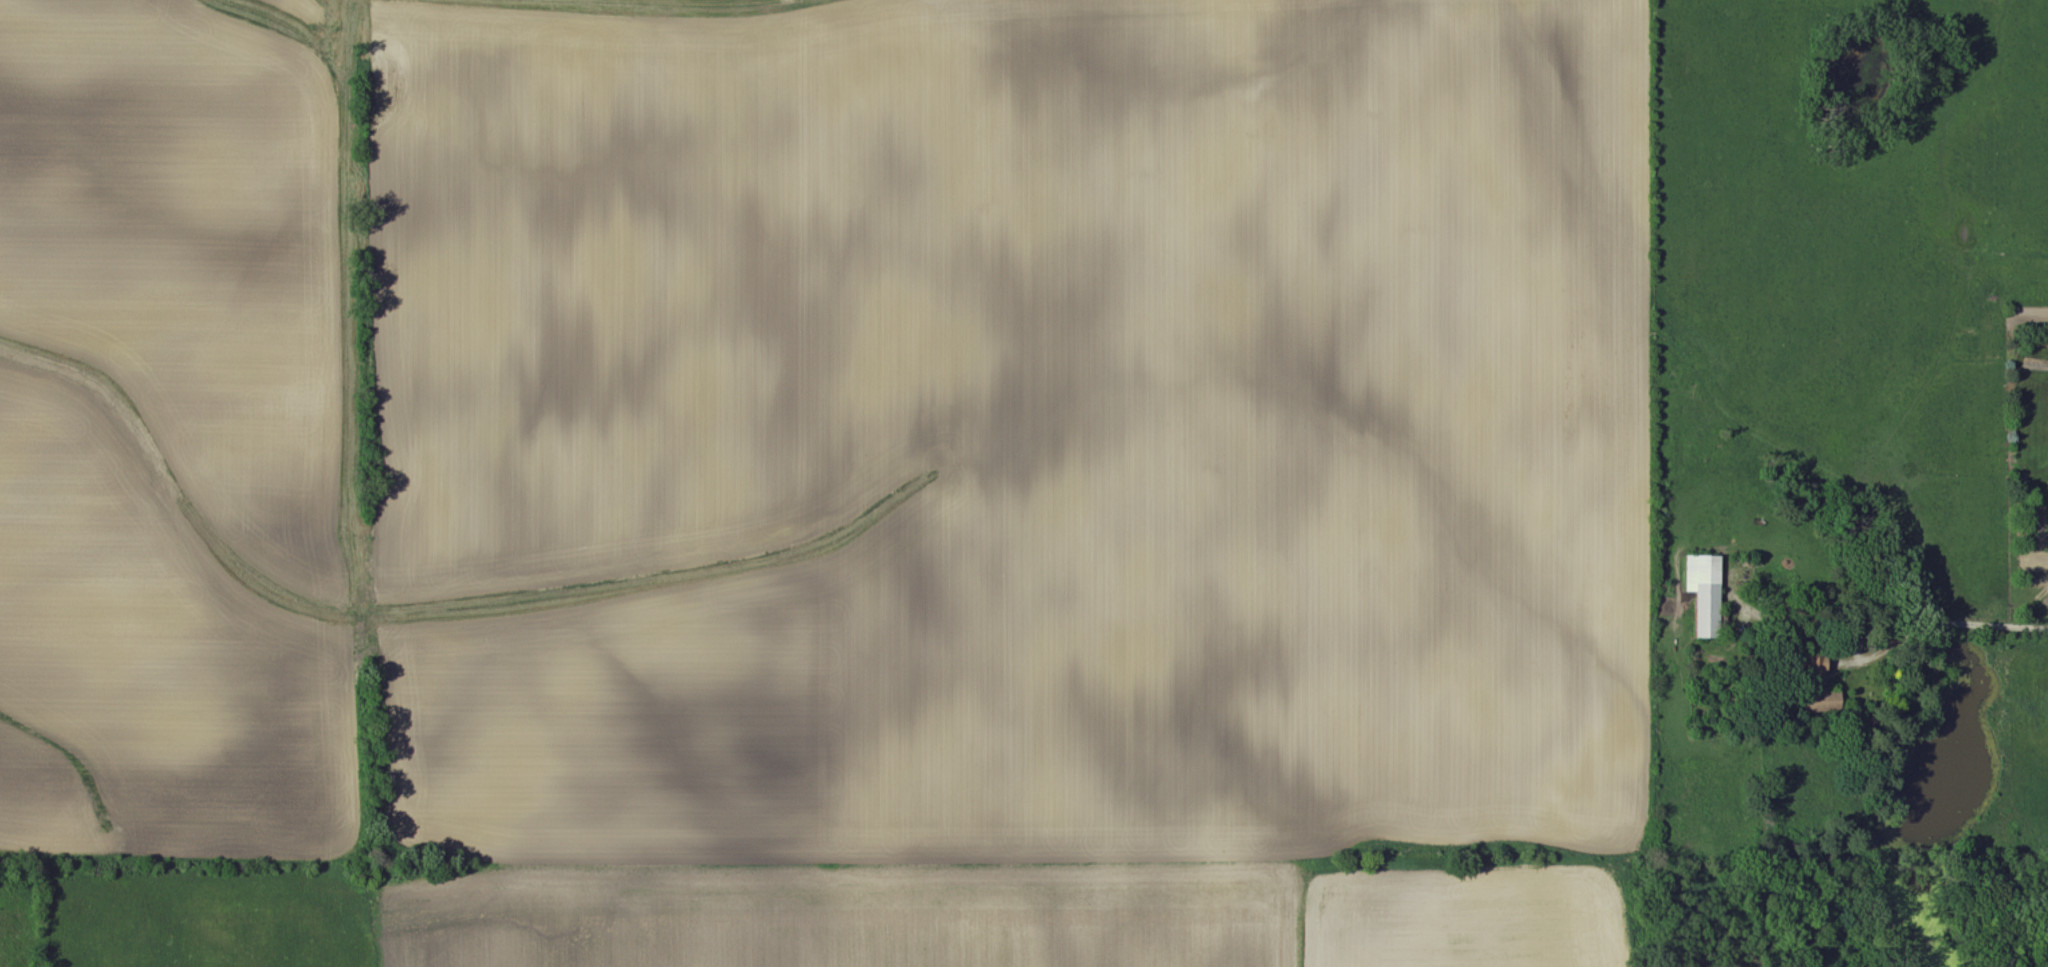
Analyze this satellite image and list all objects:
building: (1703, 594)
road: (1948, 615)
building: (1819, 690)

